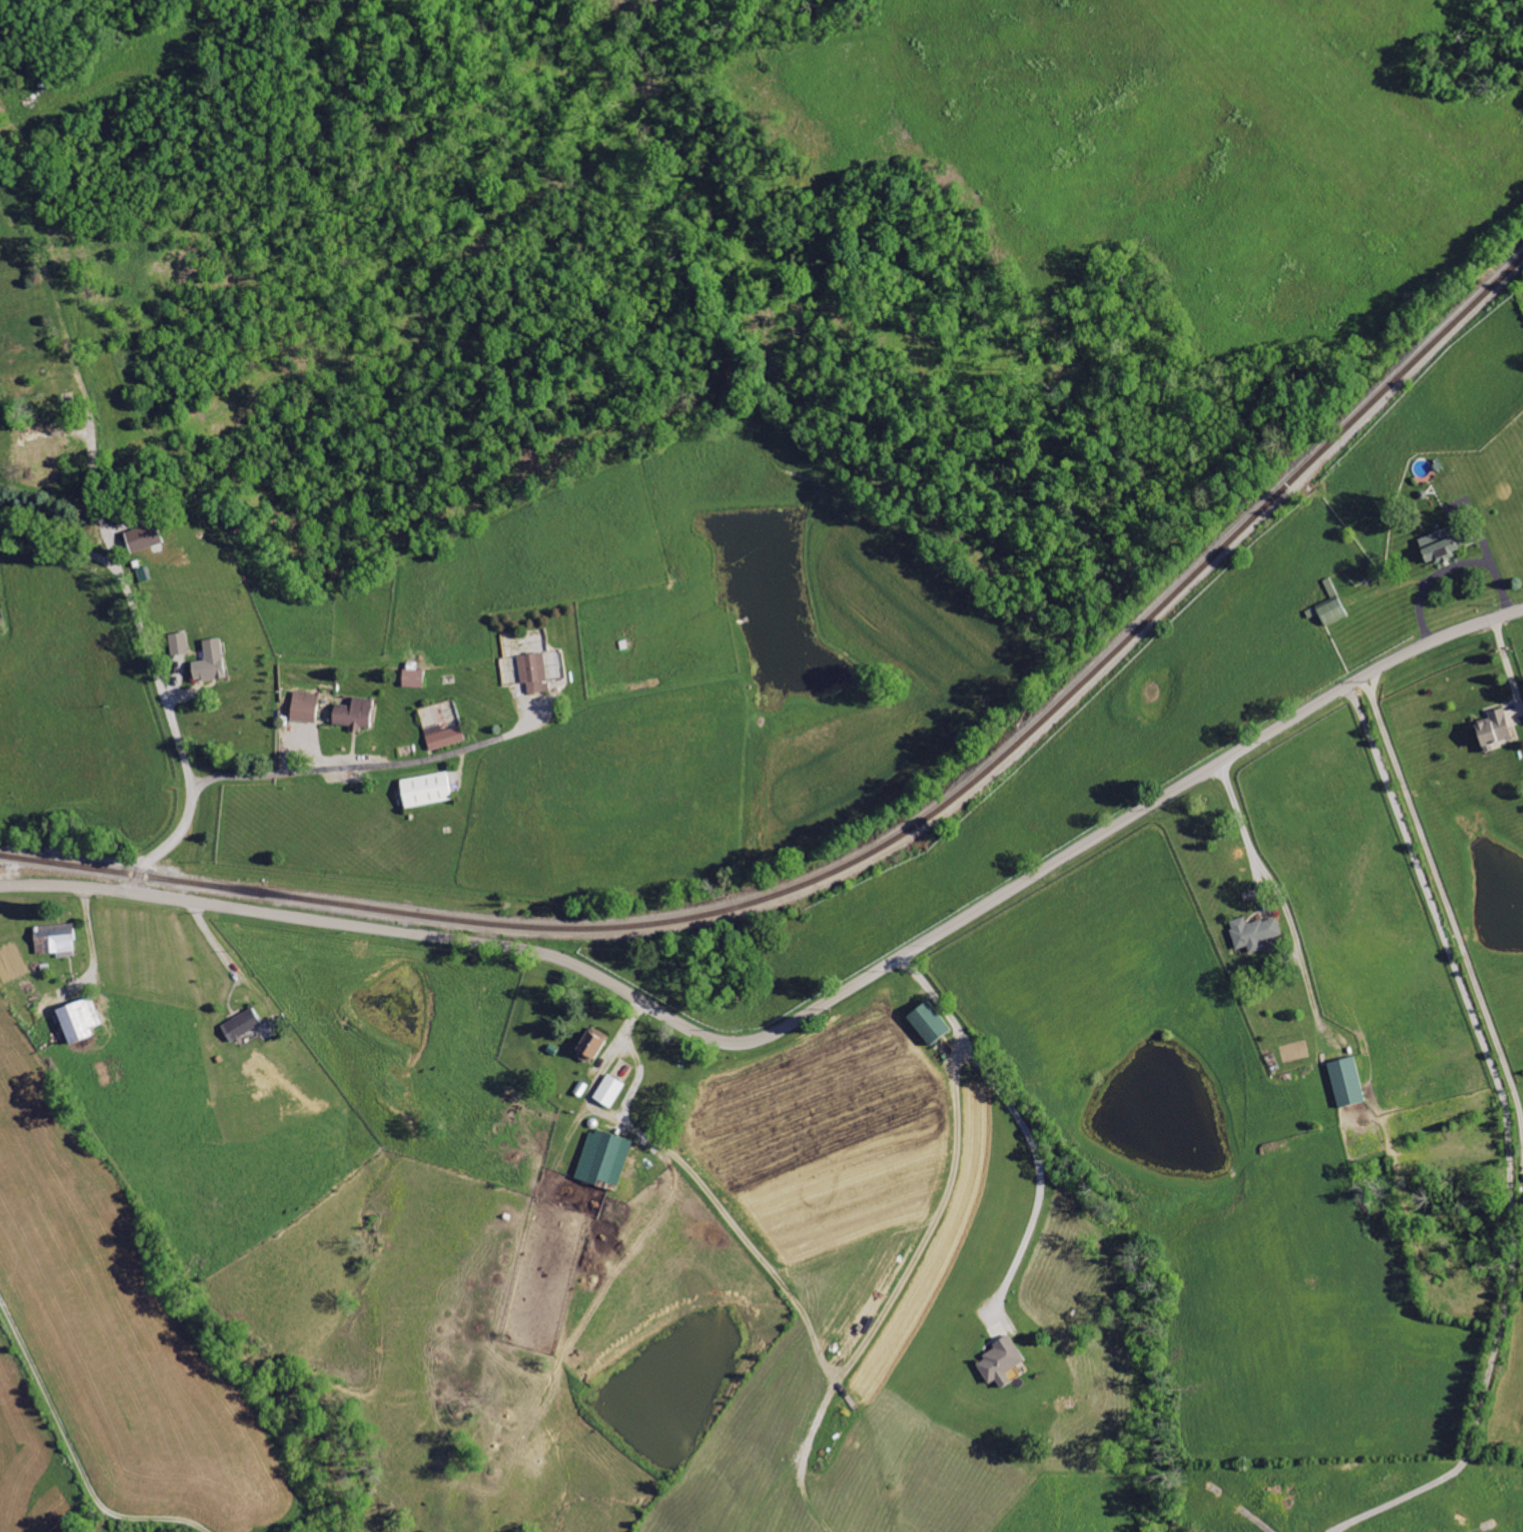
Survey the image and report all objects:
road: (114, 534)
road: (63, 539)
building: (1440, 545)
road: (1454, 565)
building: (1333, 611)
building: (181, 643)
building: (212, 661)
road: (1509, 666)
building: (557, 670)
building: (535, 672)
building: (414, 675)
building: (307, 706)
building: (356, 713)
building: (457, 726)
building: (1494, 729)
road: (359, 760)
building: (427, 789)
road: (1246, 828)
railway: (869, 855)
road: (1450, 918)
building: (1255, 932)
road: (91, 935)
building: (57, 939)
road: (221, 953)
road: (935, 996)
building: (80, 1019)
road: (800, 1019)
building: (930, 1022)
building: (242, 1025)
building: (591, 1044)
building: (1347, 1081)
building: (610, 1090)
building: (604, 1159)
road: (1039, 1163)
road: (706, 1191)
road: (895, 1293)
building: (1001, 1361)
road: (69, 1437)

